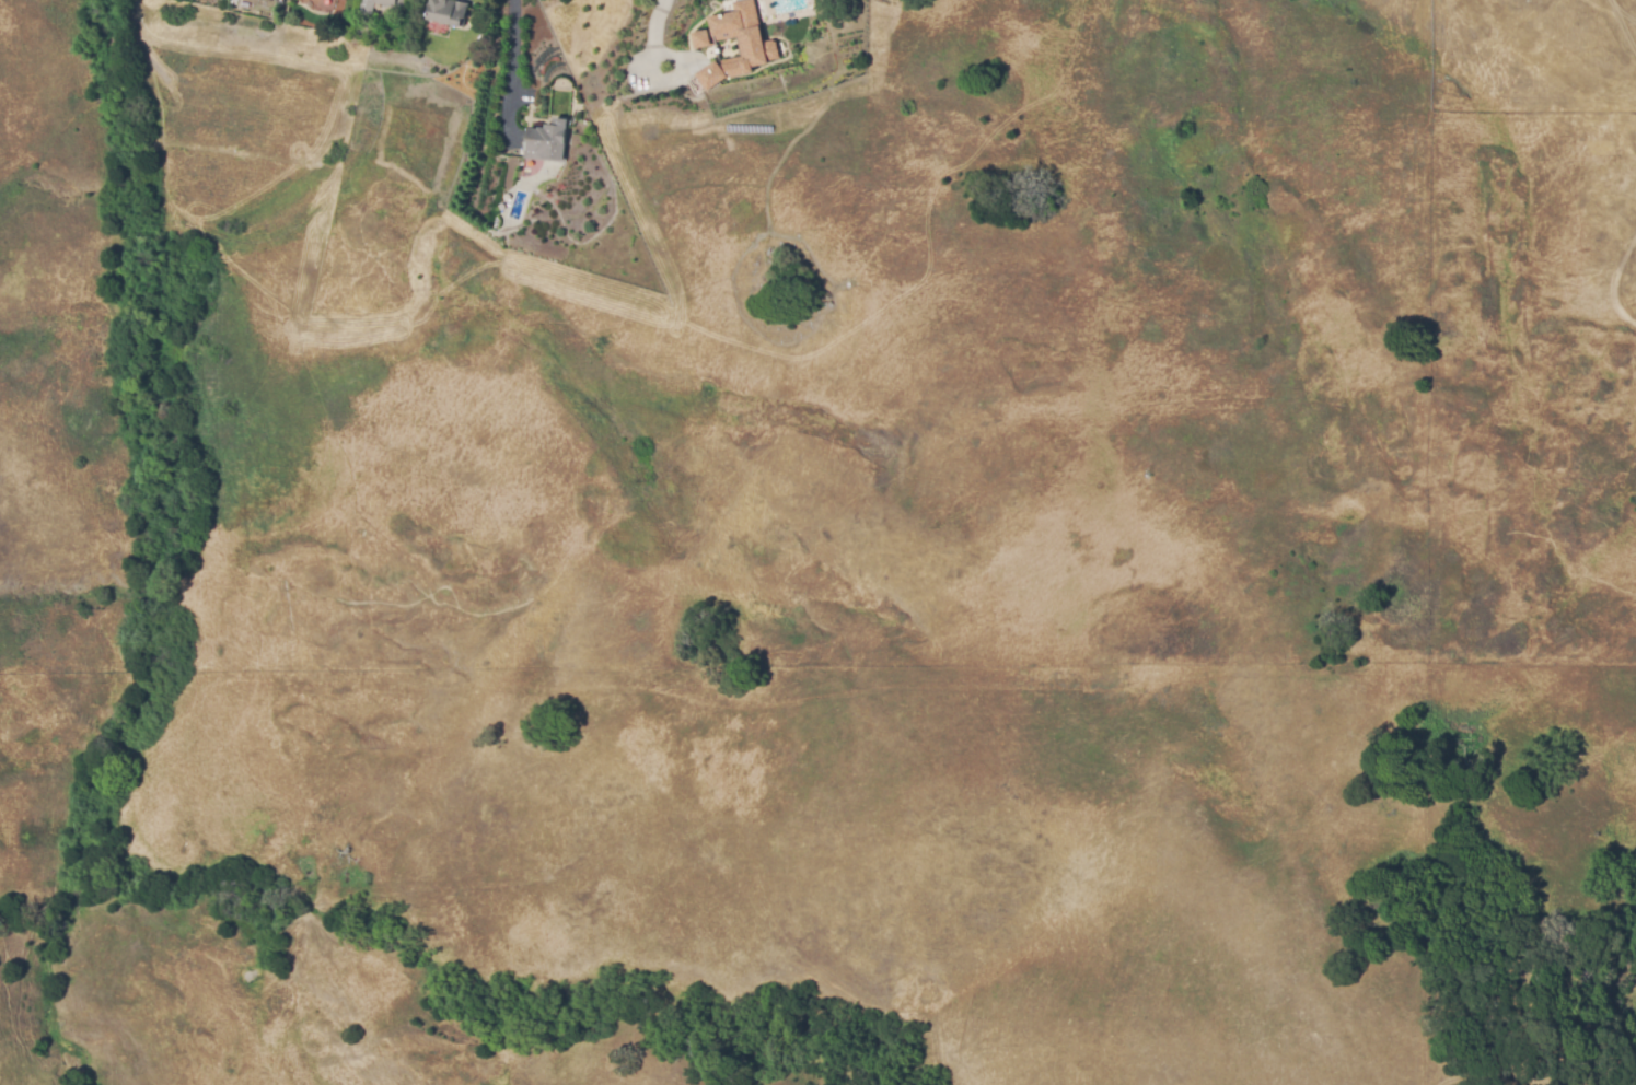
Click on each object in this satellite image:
building: (388, 2)
building: (444, 12)
road: (657, 32)
building: (759, 47)
road: (511, 65)
building: (543, 140)

